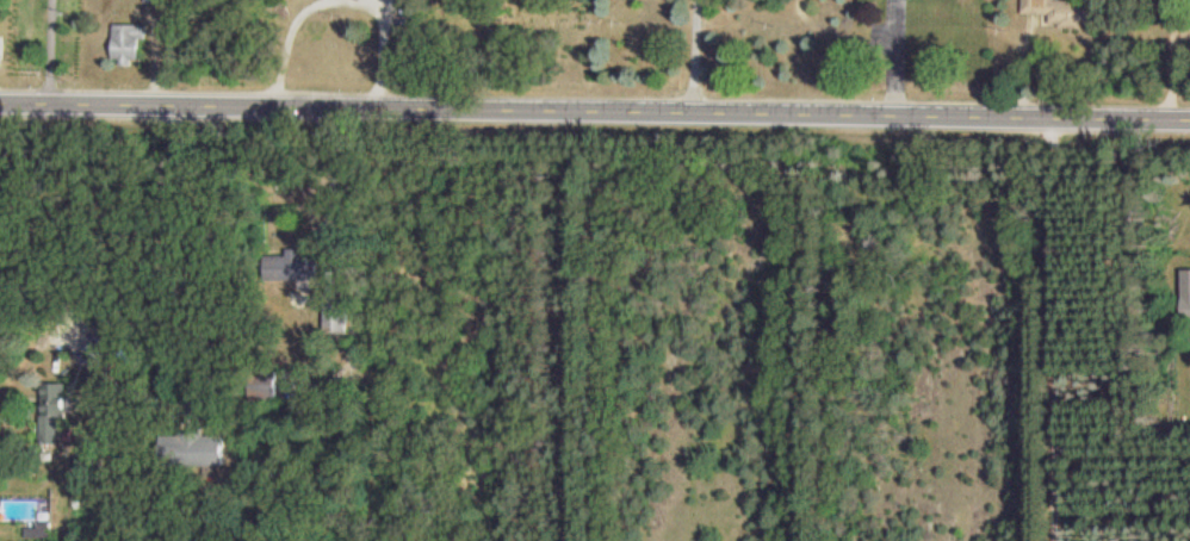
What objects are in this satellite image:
building: (154, 0)
building: (1060, 13)
road: (286, 38)
building: (128, 42)
road: (383, 46)
road: (49, 50)
road: (696, 55)
road: (893, 56)
road: (594, 108)
road: (335, 182)
road: (160, 248)
building: (295, 268)
road: (41, 276)
building: (336, 317)
road: (1055, 328)
building: (54, 412)
building: (196, 448)

